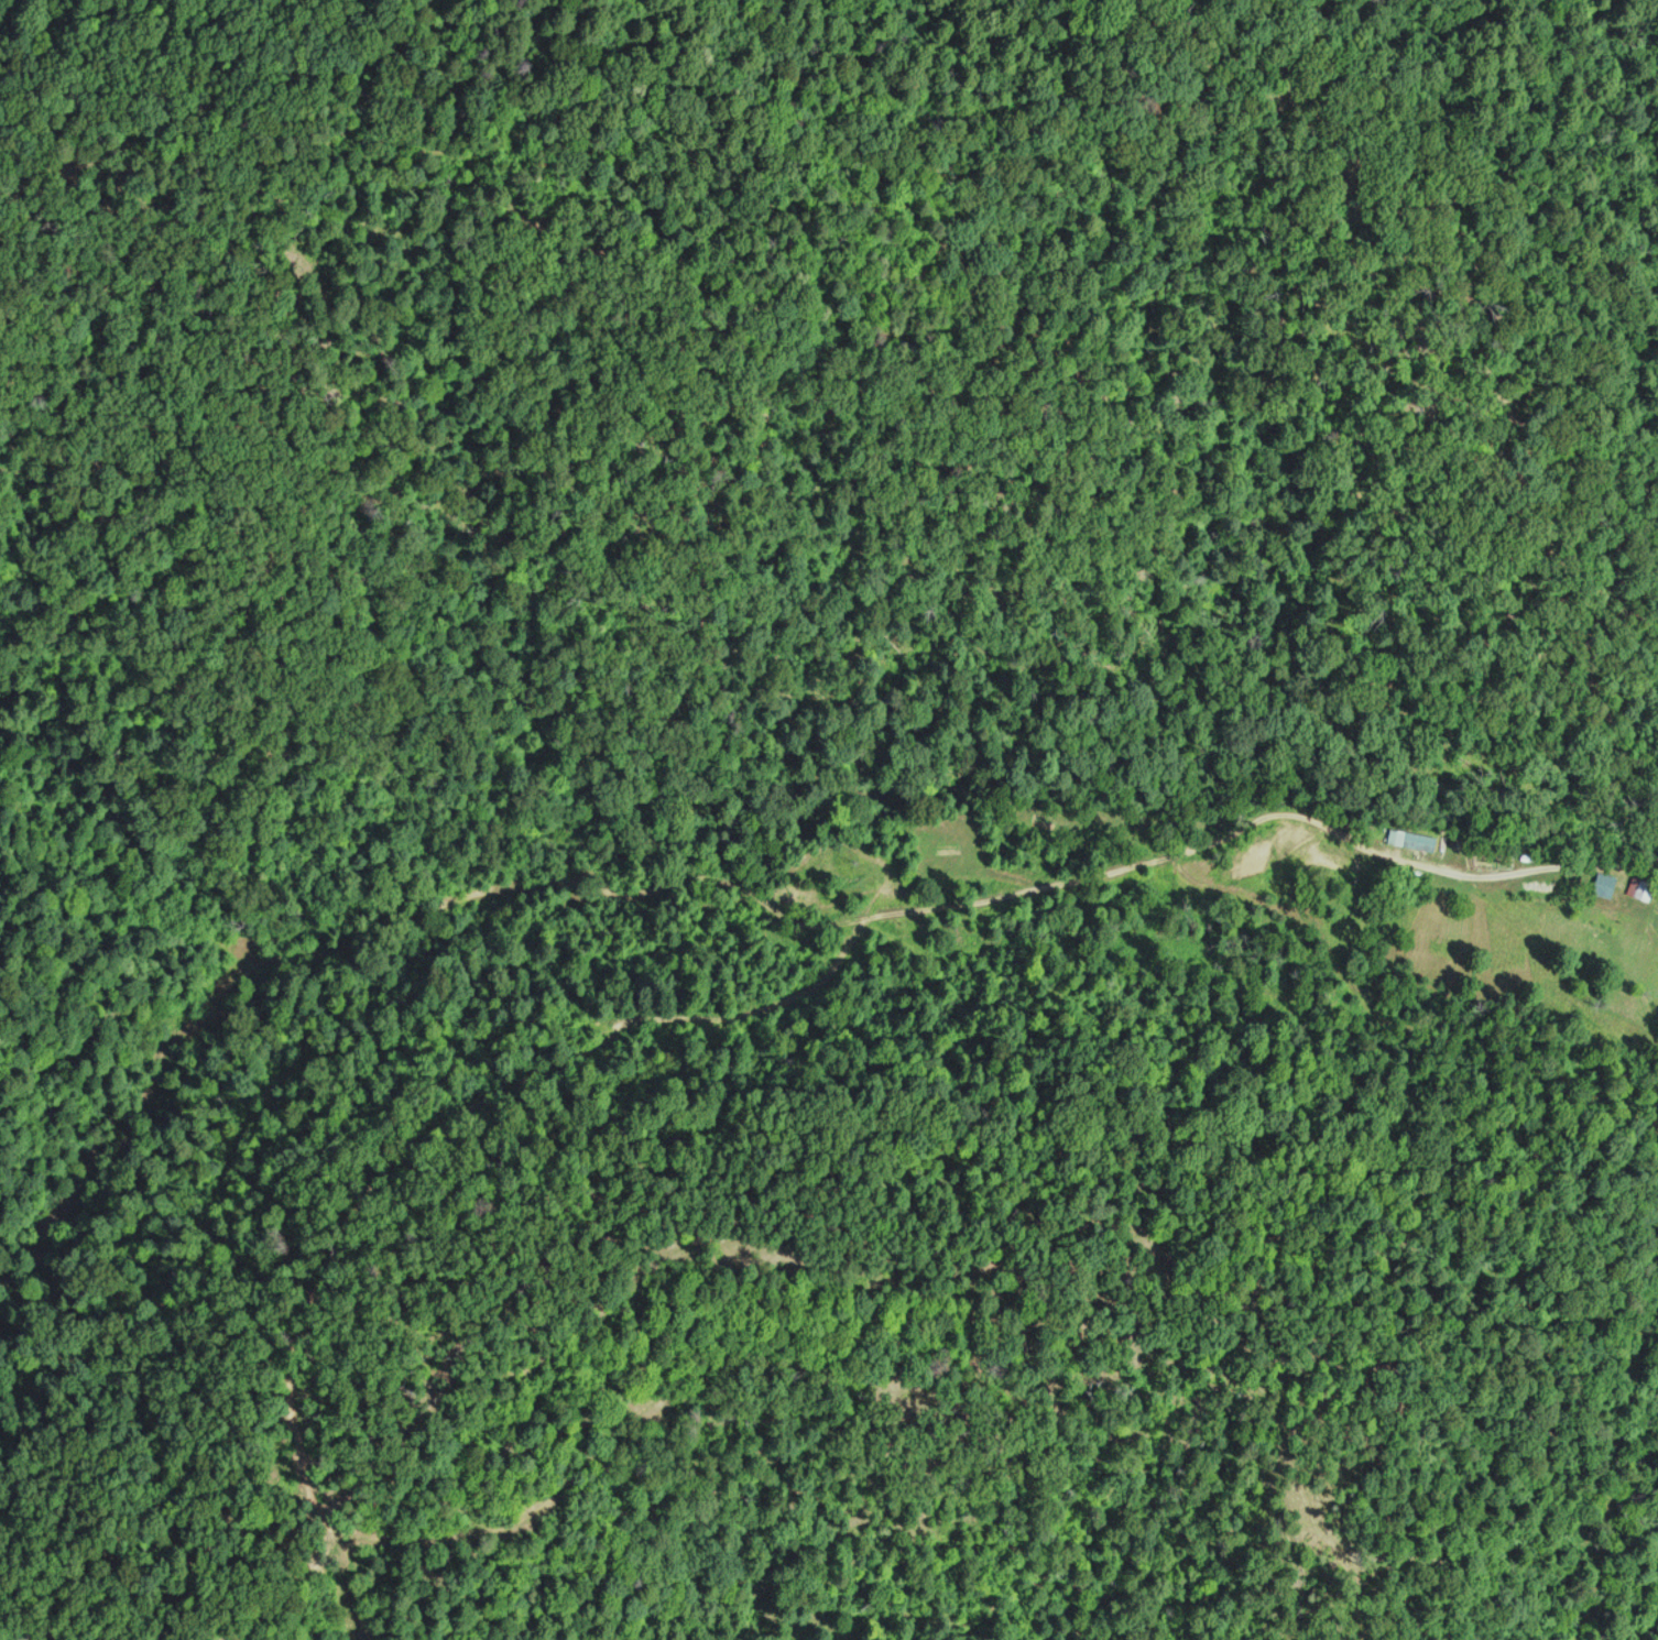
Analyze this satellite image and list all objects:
building: (1639, 890)
building: (1601, 893)

